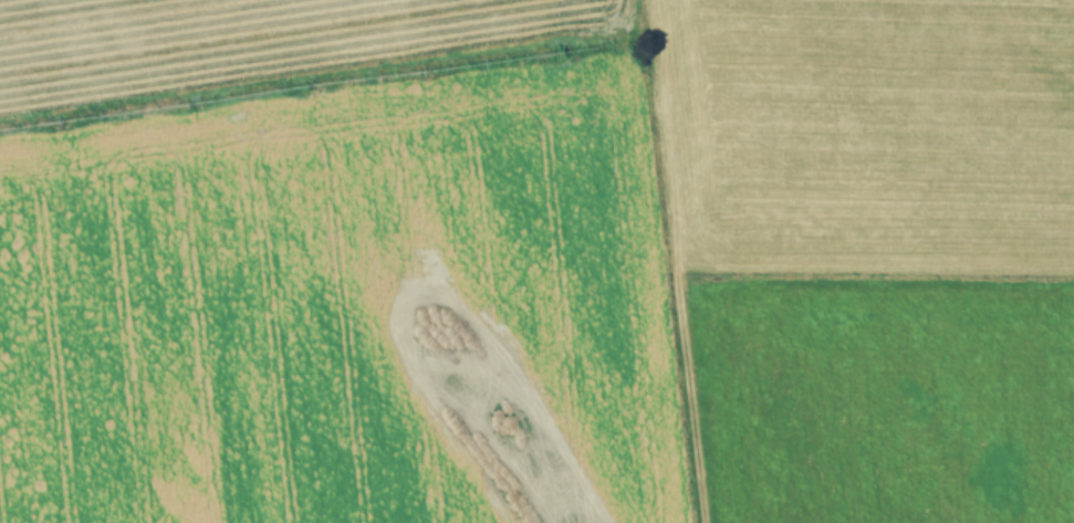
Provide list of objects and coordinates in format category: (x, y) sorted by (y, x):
crop: (536, 261)

